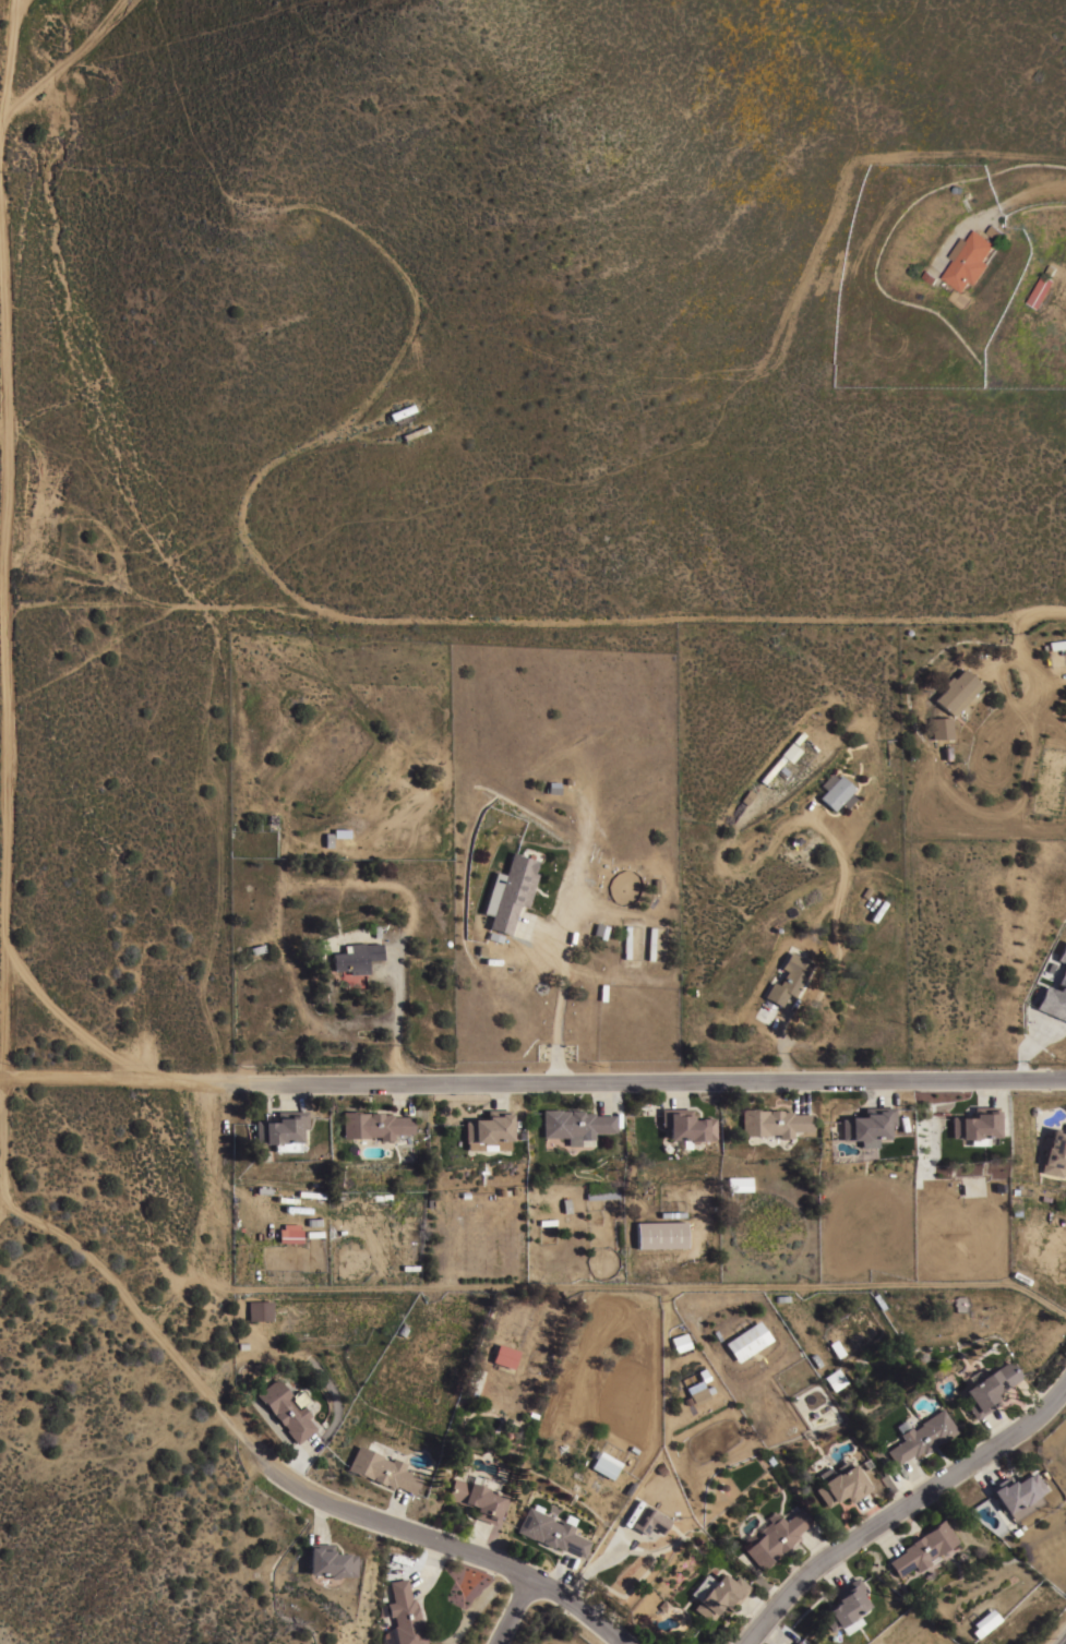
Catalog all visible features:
road: (1031, 193)
building: (996, 231)
building: (969, 260)
building: (1040, 289)
building: (400, 411)
building: (414, 431)
road: (4, 585)
road: (1046, 612)
road: (508, 622)
building: (1055, 645)
road: (1015, 648)
building: (957, 691)
building: (941, 727)
building: (790, 752)
building: (771, 769)
building: (835, 792)
building: (510, 891)
building: (625, 941)
building: (650, 943)
building: (1062, 952)
building: (356, 957)
building: (788, 979)
building: (1053, 1001)
road: (556, 1003)
road: (396, 1019)
road: (778, 1042)
road: (1022, 1047)
road: (108, 1080)
road: (642, 1083)
road: (869, 1092)
road: (668, 1093)
road: (990, 1093)
road: (280, 1094)
road: (494, 1094)
road: (795, 1094)
road: (606, 1096)
road: (398, 1097)
building: (774, 1121)
building: (374, 1125)
building: (574, 1125)
building: (685, 1125)
building: (867, 1125)
building: (974, 1125)
building: (488, 1127)
building: (280, 1130)
building: (477, 1147)
building: (1054, 1152)
building: (739, 1183)
building: (601, 1195)
road: (214, 1215)
building: (289, 1233)
building: (660, 1234)
building: (1022, 1273)
road: (217, 1275)
road: (652, 1284)
building: (260, 1310)
road: (145, 1320)
building: (746, 1341)
building: (676, 1342)
building: (504, 1356)
building: (834, 1379)
building: (990, 1388)
building: (698, 1394)
building: (285, 1409)
building: (922, 1436)
road: (292, 1461)
building: (606, 1464)
building: (381, 1468)
road: (918, 1477)
building: (840, 1483)
road: (984, 1492)
building: (1016, 1492)
building: (478, 1497)
road: (899, 1508)
road: (392, 1511)
road: (869, 1511)
road: (316, 1517)
building: (649, 1520)
building: (551, 1532)
road: (884, 1536)
building: (776, 1538)
road: (470, 1540)
road: (816, 1545)
road: (448, 1548)
building: (923, 1548)
building: (330, 1561)
road: (592, 1563)
road: (426, 1567)
road: (835, 1567)
road: (554, 1570)
building: (720, 1596)
building: (845, 1604)
road: (514, 1611)
road: (754, 1611)
building: (404, 1615)
building: (984, 1622)
building: (791, 1642)
building: (796, 1642)

